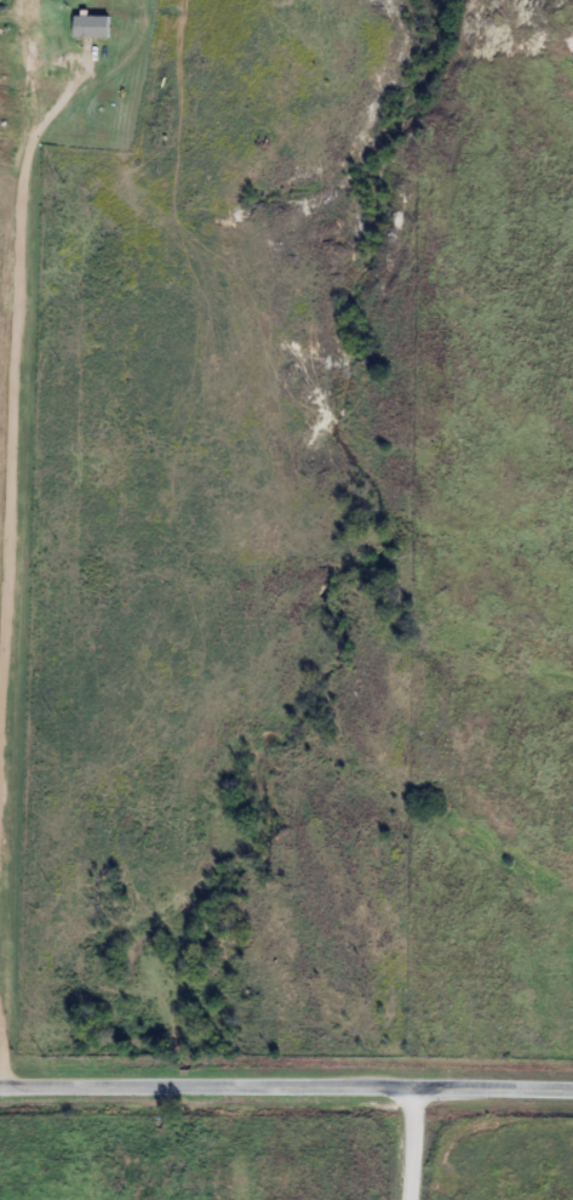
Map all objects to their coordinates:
building: (97, 22)
road: (16, 502)
road: (286, 1082)
road: (418, 1141)

